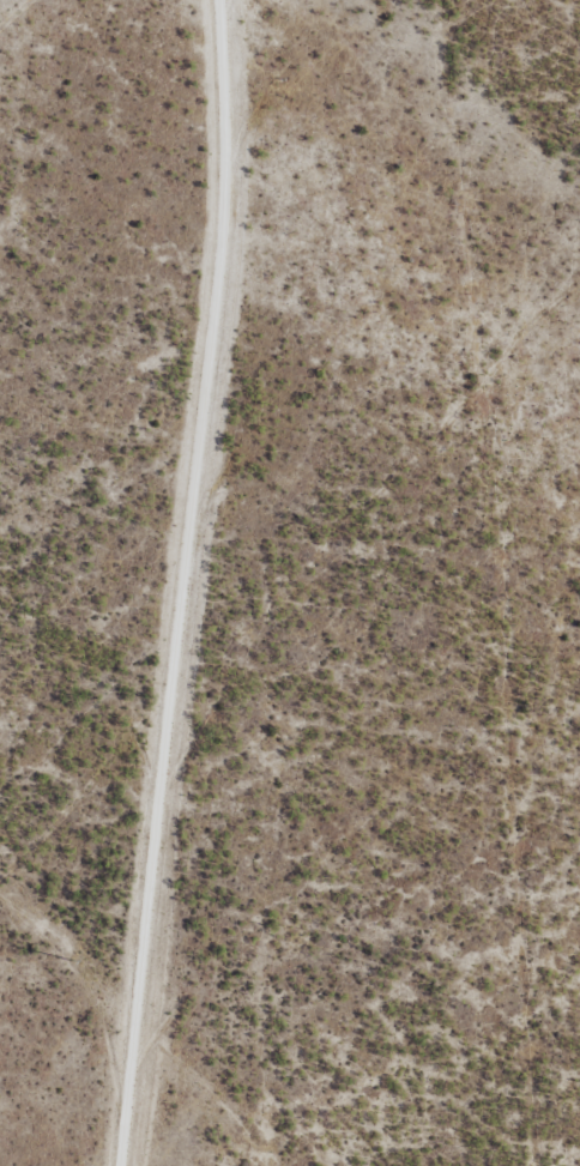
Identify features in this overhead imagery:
road: (163, 584)
power tower: (72, 961)

